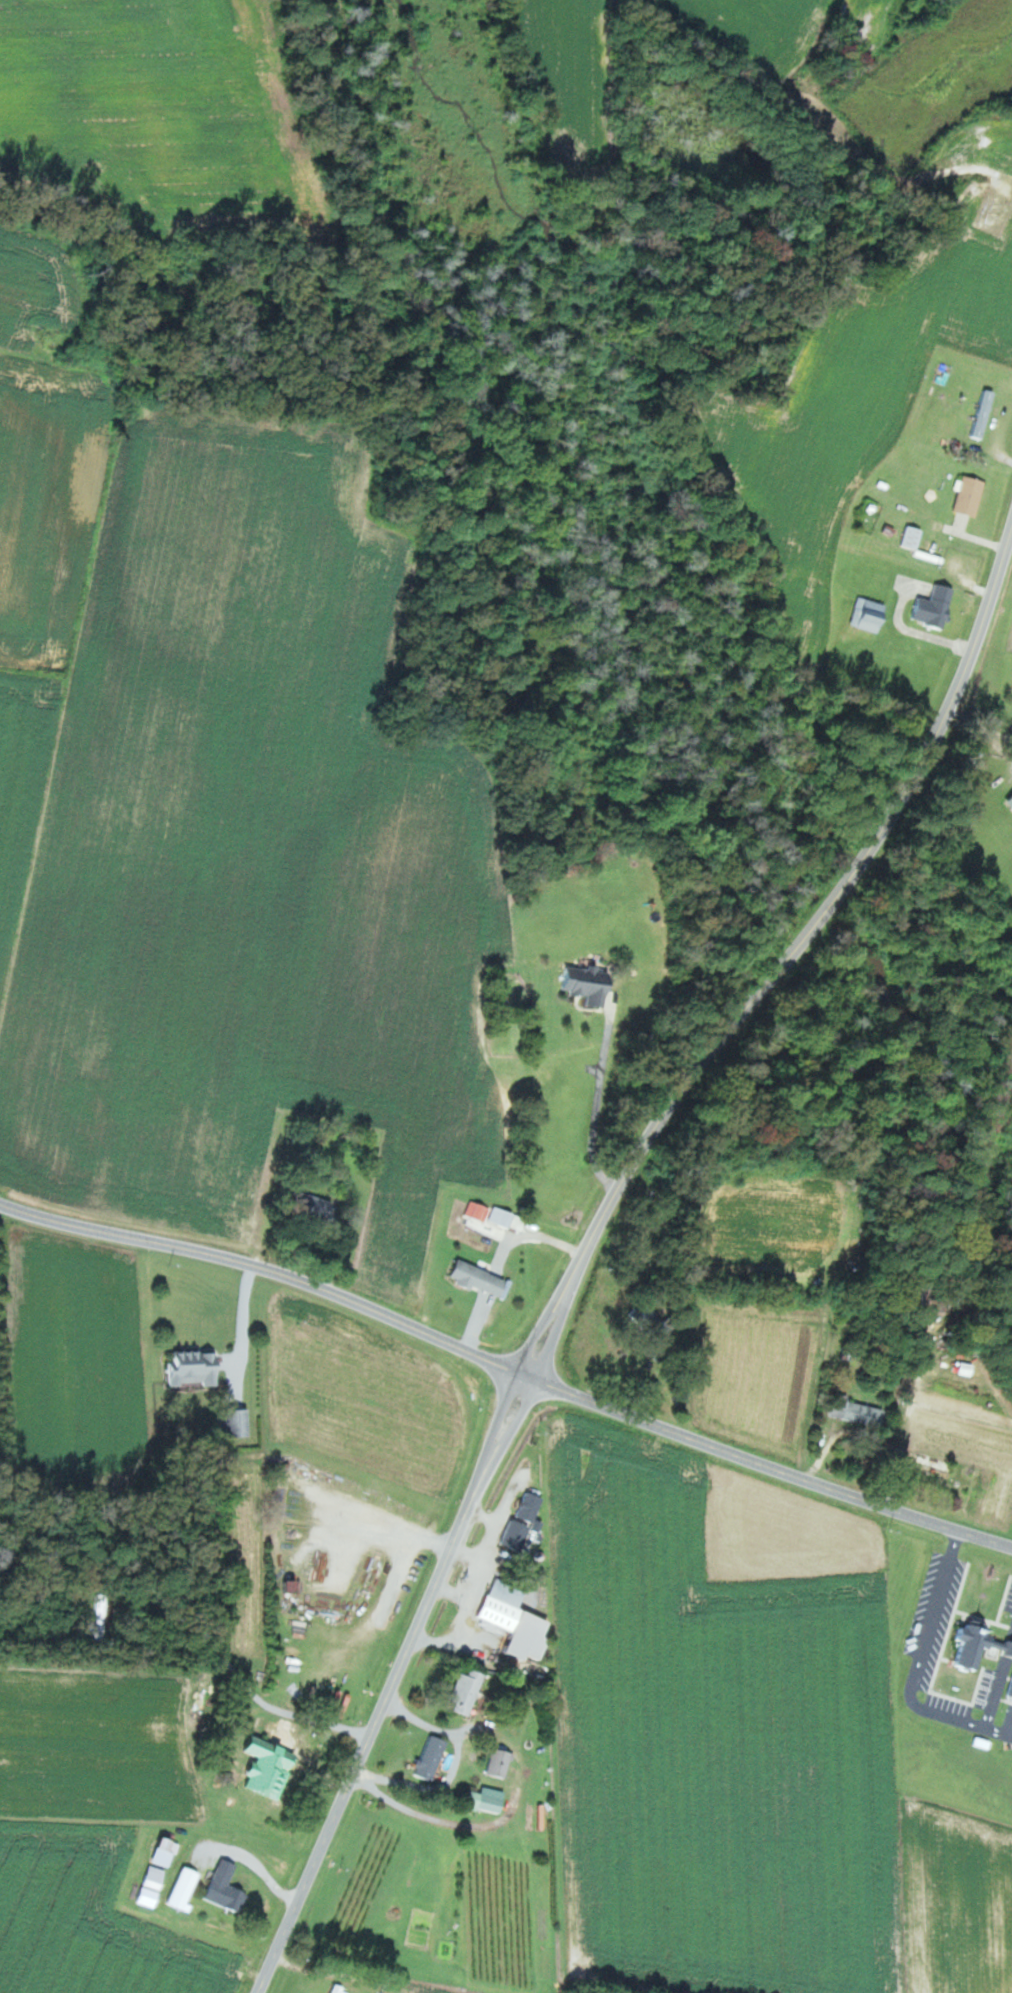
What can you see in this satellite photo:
building: (982, 414)
building: (967, 496)
building: (911, 538)
building: (931, 607)
building: (865, 617)
building: (1008, 802)
road: (787, 956)
building: (583, 985)
building: (321, 1209)
road: (268, 1268)
building: (473, 1278)
building: (645, 1321)
road: (246, 1327)
building: (198, 1368)
building: (854, 1411)
building: (237, 1423)
road: (767, 1464)
building: (935, 1467)
building: (517, 1523)
building: (295, 1588)
building: (101, 1616)
building: (509, 1620)
building: (974, 1647)
road: (243, 1682)
road: (398, 1683)
building: (1009, 1689)
building: (461, 1692)
building: (428, 1758)
building: (497, 1764)
building: (268, 1776)
building: (483, 1800)
building: (167, 1851)
building: (153, 1886)
building: (228, 1887)
building: (187, 1888)
building: (338, 1988)

